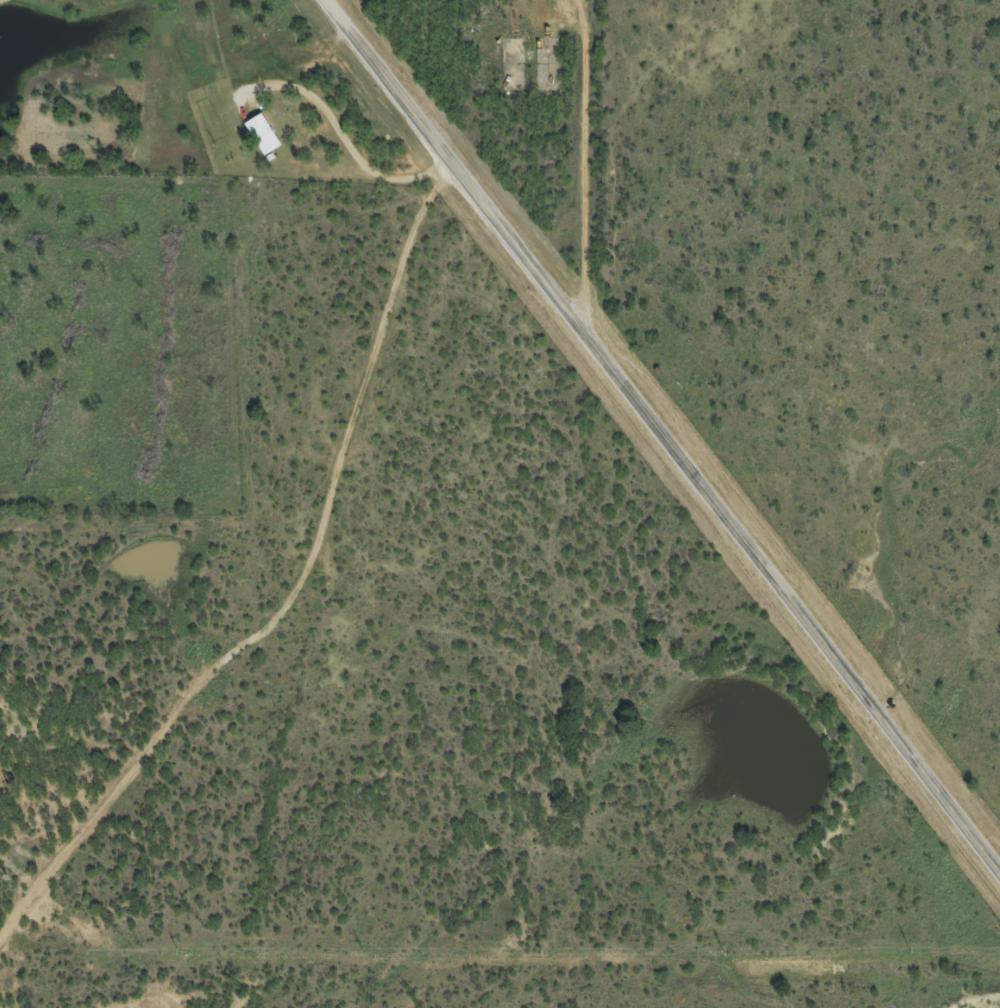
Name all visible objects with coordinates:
building: (260, 142)
road: (583, 162)
road: (618, 381)
road: (349, 586)
road: (957, 817)

